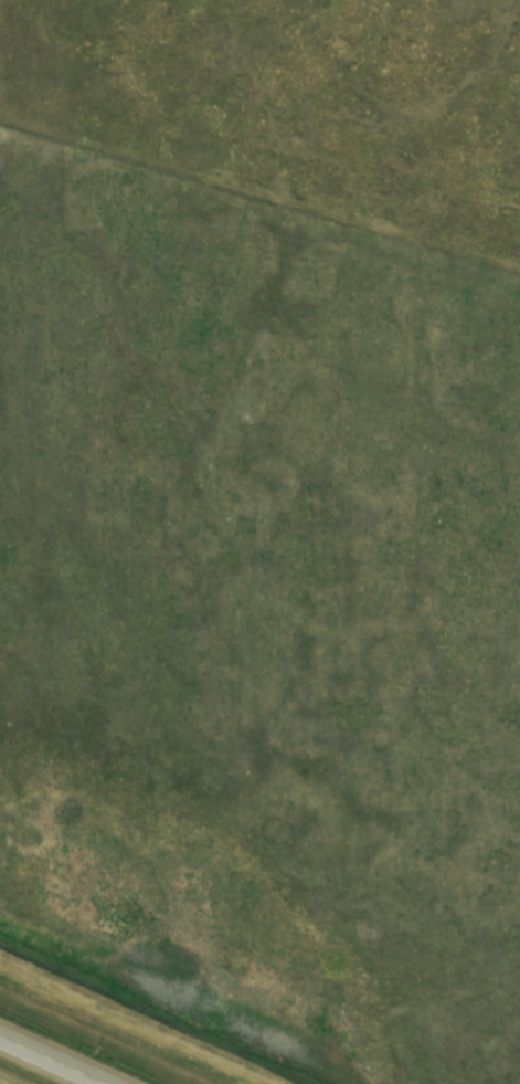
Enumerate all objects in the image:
road: (51, 1061)

